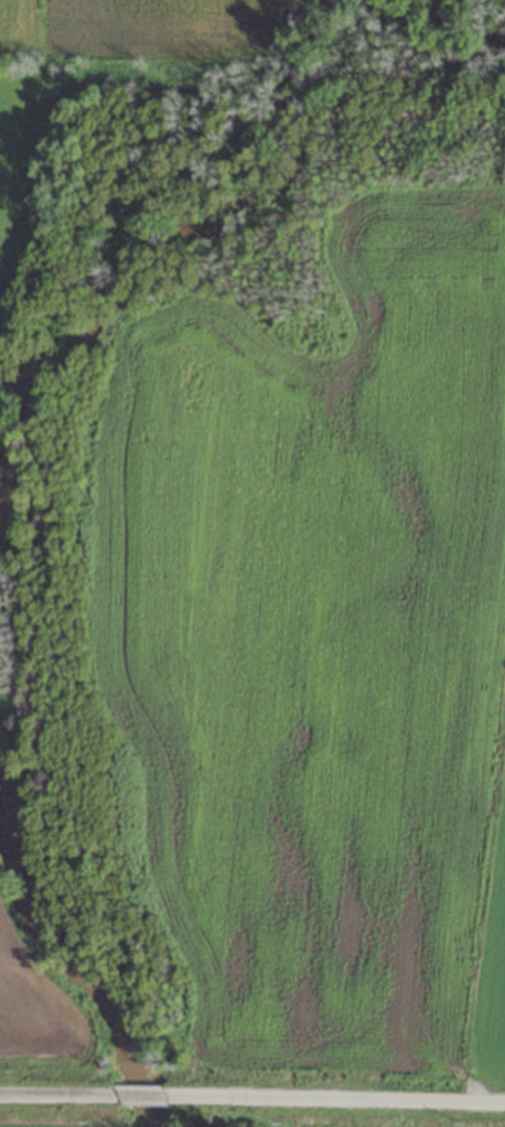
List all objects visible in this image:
road: (253, 1097)

